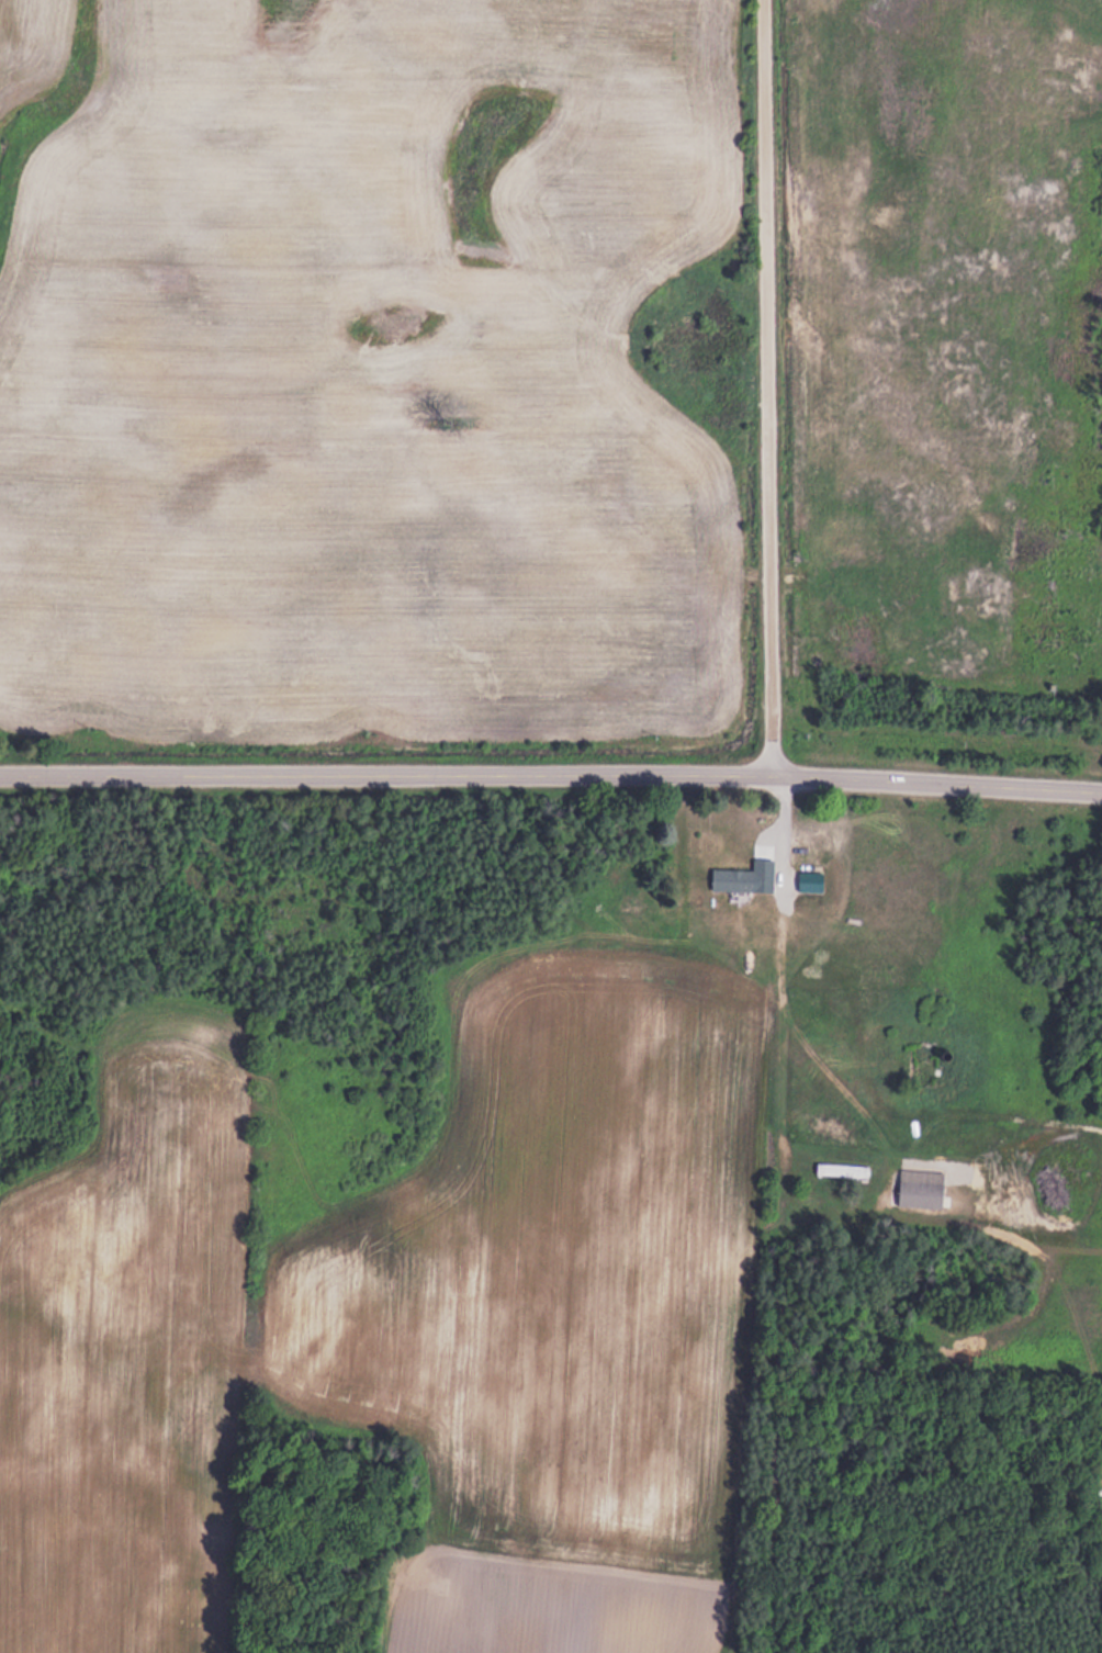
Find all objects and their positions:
road: (763, 387)
road: (551, 775)
building: (731, 879)
building: (834, 1169)
building: (918, 1193)

